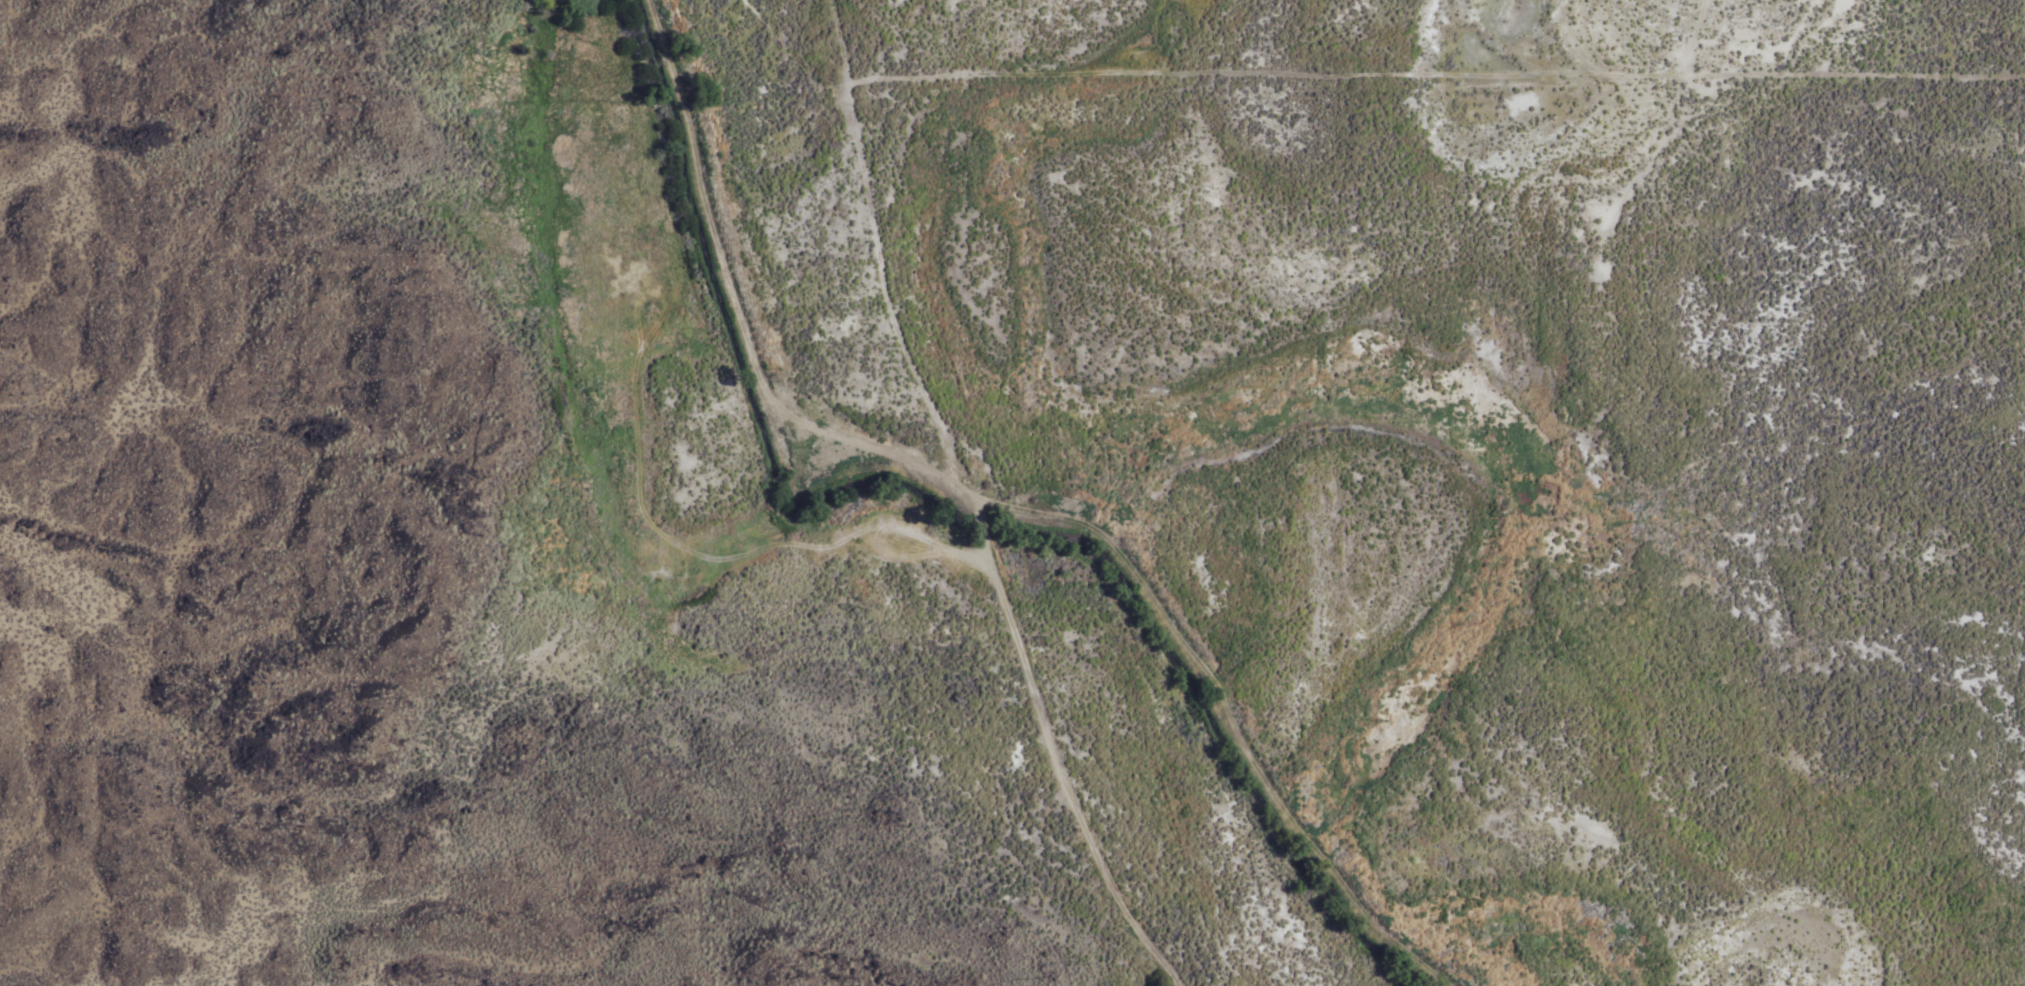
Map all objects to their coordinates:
road: (887, 265)
road: (736, 309)
road: (983, 524)
road: (1061, 766)

